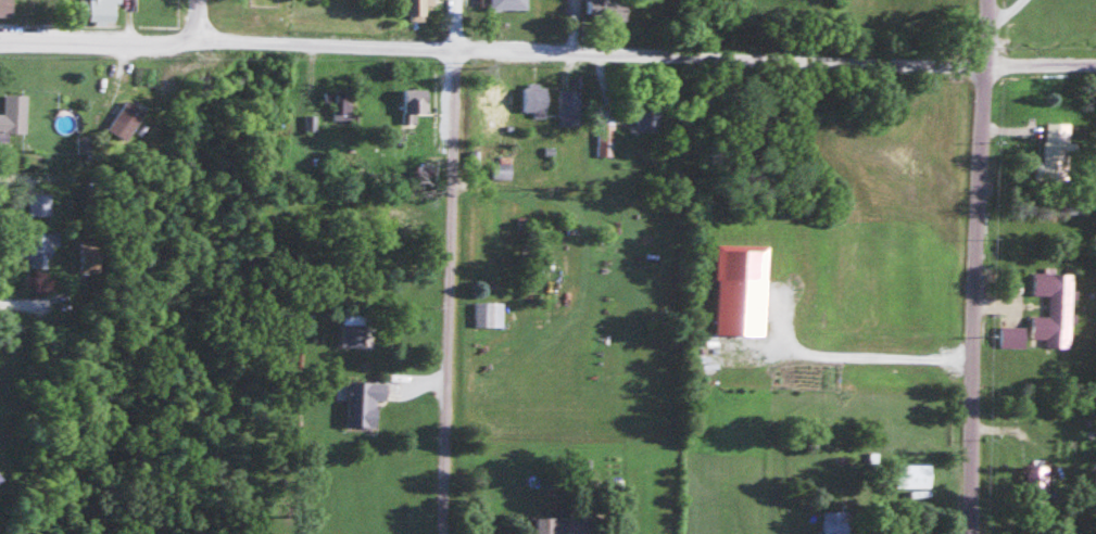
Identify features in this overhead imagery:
building: (507, 5)
building: (418, 7)
building: (5, 8)
building: (97, 9)
building: (608, 10)
road: (197, 21)
road: (547, 56)
building: (534, 98)
building: (416, 100)
building: (342, 102)
building: (499, 104)
building: (569, 106)
building: (13, 113)
building: (642, 117)
building: (123, 118)
building: (1055, 152)
building: (503, 167)
building: (38, 203)
building: (39, 247)
road: (446, 266)
road: (975, 266)
building: (741, 289)
road: (2, 304)
building: (1055, 309)
building: (490, 313)
building: (354, 333)
building: (1012, 338)
building: (365, 400)
building: (912, 475)
building: (1038, 482)
building: (569, 524)

